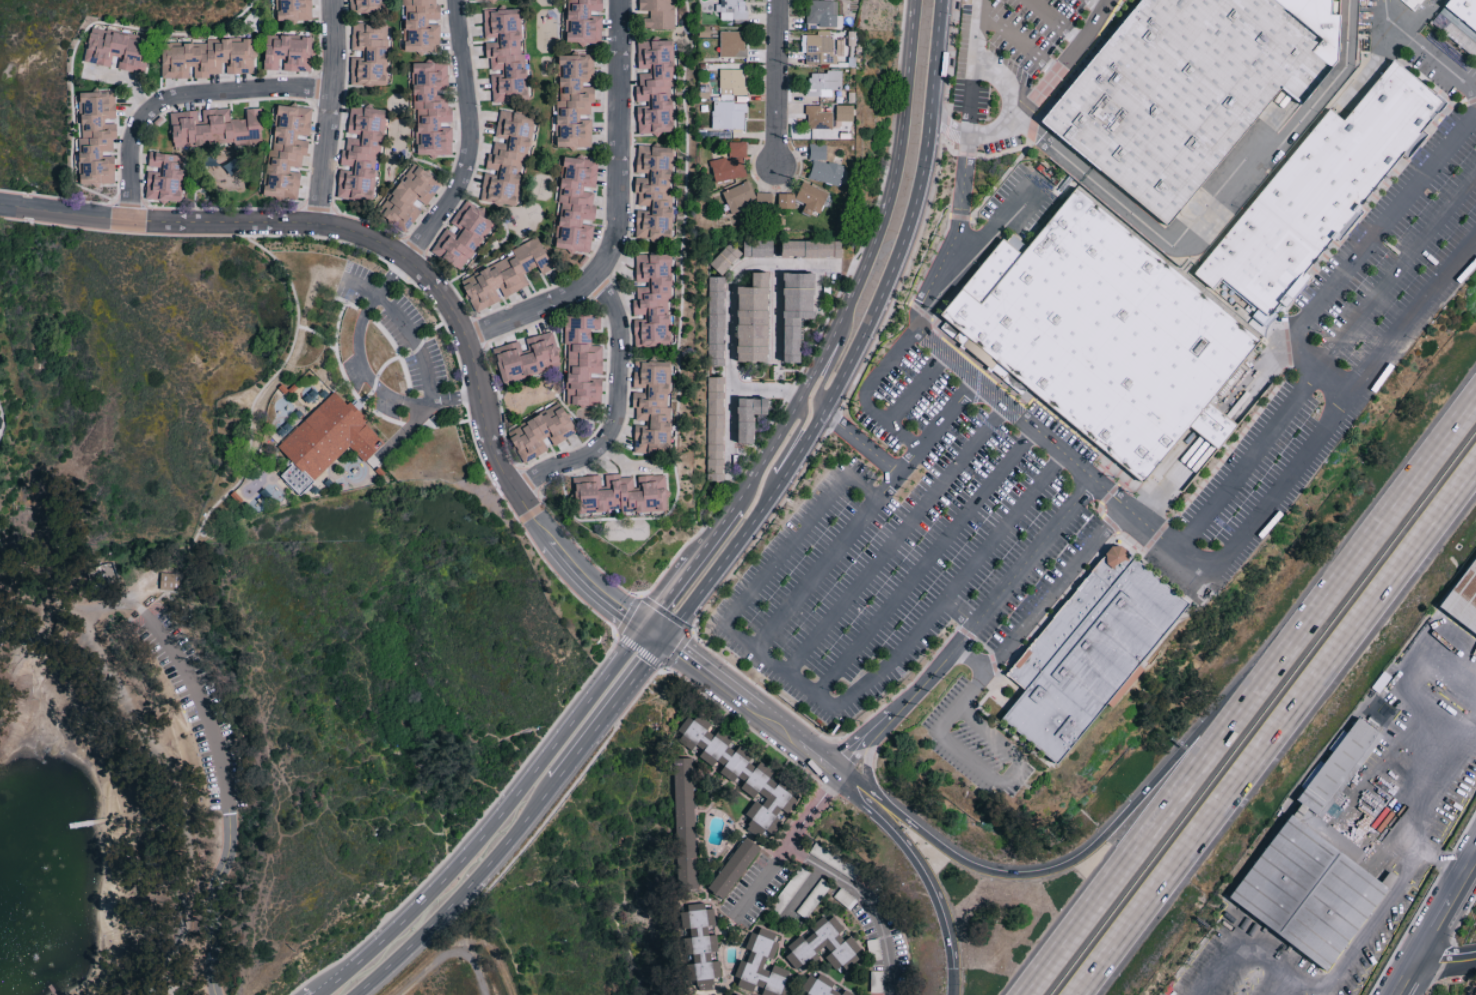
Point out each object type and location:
building: (1412, 3)
building: (367, 5)
road: (1095, 5)
building: (732, 9)
building: (295, 10)
building: (822, 12)
building: (1462, 12)
building: (660, 13)
building: (584, 21)
road: (1056, 21)
building: (422, 26)
road: (974, 28)
road: (1017, 38)
building: (732, 43)
building: (818, 48)
building: (118, 49)
building: (289, 52)
building: (370, 54)
building: (506, 54)
building: (208, 57)
road: (936, 59)
road: (907, 61)
road: (1066, 61)
road: (1445, 67)
building: (733, 81)
building: (823, 83)
road: (128, 84)
road: (775, 85)
building: (655, 86)
building: (1173, 90)
road: (969, 95)
building: (576, 100)
road: (1015, 105)
road: (186, 107)
building: (432, 109)
building: (729, 115)
road: (335, 117)
building: (818, 117)
building: (216, 127)
road: (947, 127)
building: (97, 137)
road: (474, 143)
building: (289, 150)
building: (817, 152)
building: (362, 154)
building: (508, 157)
building: (731, 162)
building: (826, 172)
building: (166, 177)
building: (1318, 185)
building: (655, 191)
building: (411, 196)
building: (748, 198)
building: (812, 198)
building: (786, 200)
road: (1210, 201)
building: (577, 204)
road: (623, 217)
road: (1382, 227)
road: (999, 230)
road: (956, 235)
building: (464, 236)
building: (758, 248)
building: (813, 248)
road: (389, 255)
building: (725, 258)
building: (506, 275)
road: (388, 279)
road: (359, 286)
building: (653, 301)
road: (777, 311)
building: (800, 311)
building: (755, 319)
building: (716, 320)
road: (837, 321)
road: (729, 327)
building: (1100, 333)
road: (415, 343)
building: (528, 357)
building: (583, 362)
road: (1325, 363)
road: (832, 364)
road: (1320, 368)
road: (363, 369)
road: (915, 387)
road: (764, 391)
road: (864, 392)
road: (832, 395)
road: (457, 399)
building: (652, 406)
road: (1341, 408)
building: (753, 417)
road: (623, 418)
building: (716, 428)
building: (542, 431)
building: (326, 440)
road: (861, 442)
road: (787, 448)
road: (1060, 452)
building: (620, 493)
road: (1390, 511)
road: (865, 514)
road: (712, 532)
parking lot: (920, 533)
road: (897, 540)
road: (924, 562)
building: (170, 581)
road: (666, 590)
road: (121, 601)
road: (615, 601)
building: (1465, 602)
road: (1027, 618)
road: (653, 629)
road: (969, 630)
building: (1084, 653)
road: (971, 658)
park: (227, 659)
road: (1415, 669)
road: (638, 674)
building: (1122, 693)
road: (823, 701)
road: (754, 707)
parking lot: (197, 708)
road: (174, 727)
road: (141, 730)
road: (1278, 734)
road: (1473, 736)
road: (584, 746)
road: (1377, 761)
road: (1011, 772)
building: (743, 774)
road: (1414, 789)
road: (228, 794)
building: (1372, 798)
road: (507, 808)
road: (1166, 809)
pier: (89, 823)
building: (686, 824)
road: (1102, 841)
road: (918, 861)
building: (735, 868)
building: (1316, 869)
road: (1460, 873)
road: (831, 874)
road: (761, 882)
road: (463, 897)
road: (1387, 908)
road: (1430, 928)
road: (1237, 938)
building: (824, 944)
road: (1445, 964)
building: (762, 965)
road: (1402, 976)
road: (955, 982)
road: (1311, 982)
road: (330, 984)
road: (1285, 984)
building: (822, 986)
building: (733, 993)

